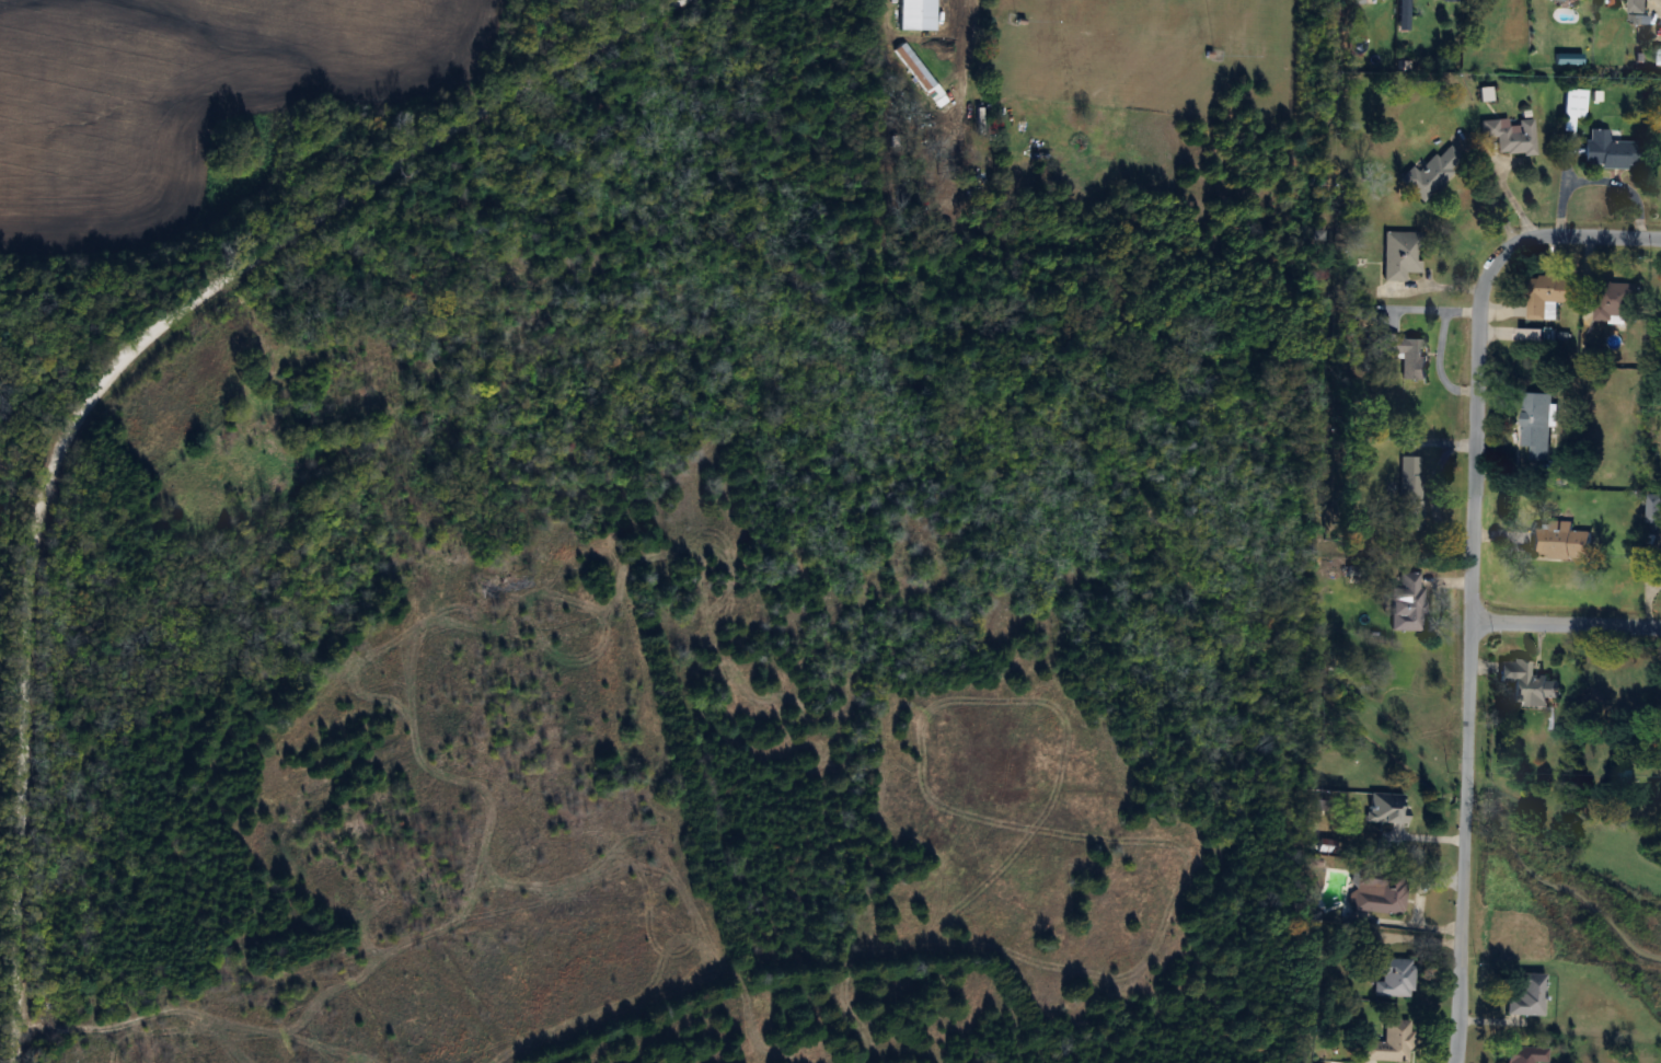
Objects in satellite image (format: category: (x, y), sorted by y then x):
building: (1639, 5)
building: (915, 66)
building: (944, 103)
building: (1573, 106)
building: (993, 125)
building: (1511, 135)
building: (1611, 150)
building: (1432, 172)
building: (1402, 255)
building: (1549, 294)
building: (1617, 302)
building: (1534, 334)
road: (1437, 340)
building: (1410, 356)
road: (112, 381)
building: (1537, 426)
building: (1411, 493)
building: (1654, 508)
building: (1560, 541)
road: (1472, 573)
building: (1408, 601)
road: (1566, 624)
building: (1529, 683)
building: (1387, 807)
building: (1380, 891)
building: (1394, 978)
building: (1529, 995)
building: (1392, 1043)
building: (1525, 1054)

